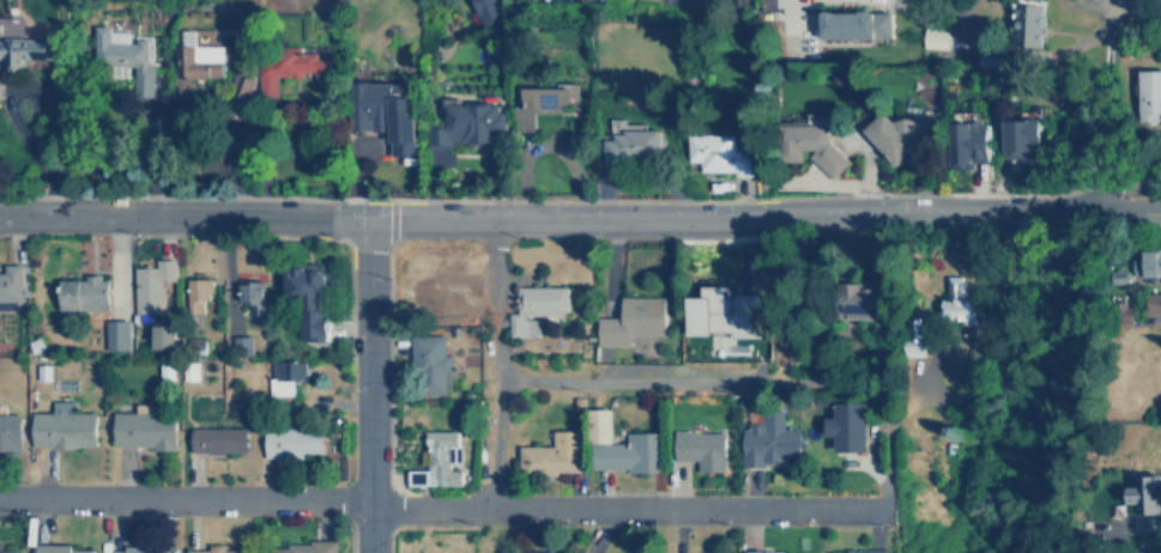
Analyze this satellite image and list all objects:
parking lot: (566, 1)
parking lot: (702, 2)
road: (1135, 10)
building: (483, 11)
building: (855, 25)
building: (1028, 25)
building: (933, 35)
building: (22, 53)
building: (121, 53)
building: (193, 59)
building: (283, 69)
building: (1149, 95)
building: (538, 104)
building: (466, 122)
building: (399, 126)
building: (903, 134)
building: (966, 136)
building: (1022, 139)
building: (806, 141)
building: (631, 144)
building: (719, 153)
building: (282, 168)
road: (1114, 189)
park: (1147, 192)
road: (580, 215)
building: (1153, 262)
building: (7, 282)
building: (146, 286)
building: (441, 290)
building: (78, 293)
building: (193, 296)
building: (247, 297)
building: (306, 299)
building: (959, 299)
building: (863, 302)
building: (1153, 302)
building: (536, 305)
building: (628, 321)
building: (716, 322)
building: (116, 334)
building: (914, 336)
building: (157, 338)
building: (242, 345)
road: (495, 358)
building: (425, 364)
building: (277, 370)
road: (672, 381)
road: (368, 385)
building: (845, 425)
building: (59, 427)
building: (140, 430)
building: (8, 432)
building: (214, 439)
building: (290, 439)
building: (766, 440)
building: (615, 445)
building: (699, 448)
building: (550, 455)
building: (439, 458)
building: (1145, 492)
road: (439, 500)
building: (296, 547)
building: (60, 548)
building: (135, 548)
building: (6, 549)
building: (212, 549)
building: (763, 551)
building: (858, 551)
building: (1149, 551)
building: (543, 552)

